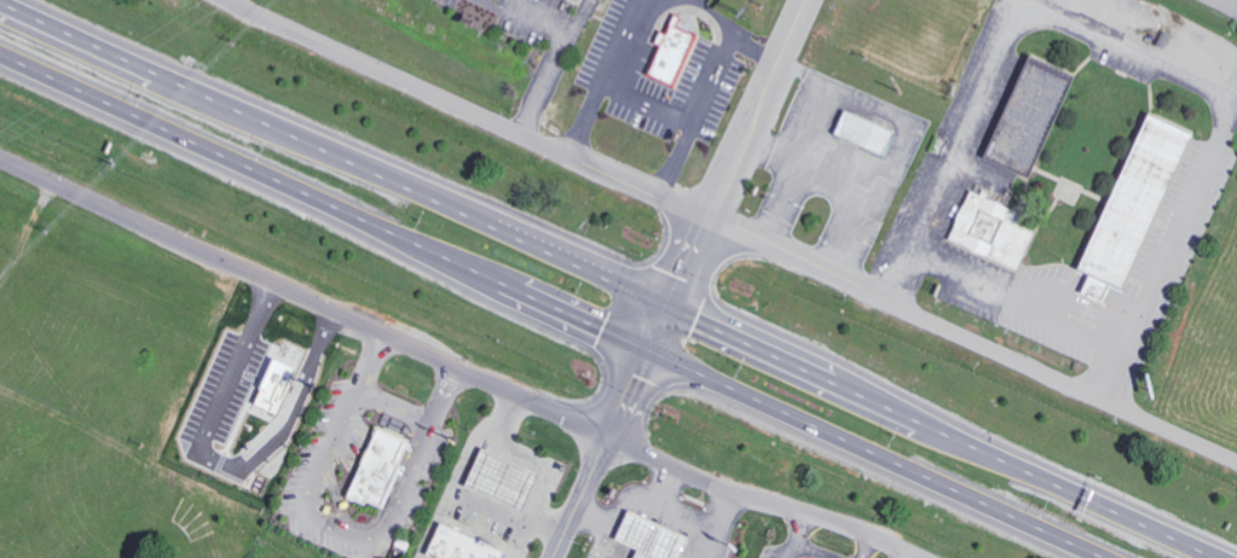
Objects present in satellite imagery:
building: (563, 0)
building: (578, 0)
road: (525, 17)
road: (730, 31)
road: (1131, 48)
building: (669, 54)
road: (553, 66)
road: (606, 76)
road: (464, 110)
road: (694, 115)
building: (1045, 117)
building: (860, 133)
road: (333, 158)
road: (323, 200)
building: (1152, 203)
building: (1125, 207)
building: (1008, 232)
road: (680, 279)
road: (304, 295)
traffic signals: (666, 308)
road: (971, 341)
traffic signals: (646, 351)
road: (394, 407)
road: (930, 435)
road: (874, 454)
building: (372, 467)
building: (495, 478)
road: (664, 489)
road: (761, 500)
road: (722, 513)
road: (675, 518)
road: (617, 519)
road: (548, 521)
road: (481, 528)
road: (335, 530)
road: (435, 535)
road: (796, 535)
building: (643, 537)
building: (453, 545)
road: (866, 547)
road: (814, 548)
road: (514, 551)
road: (900, 554)

